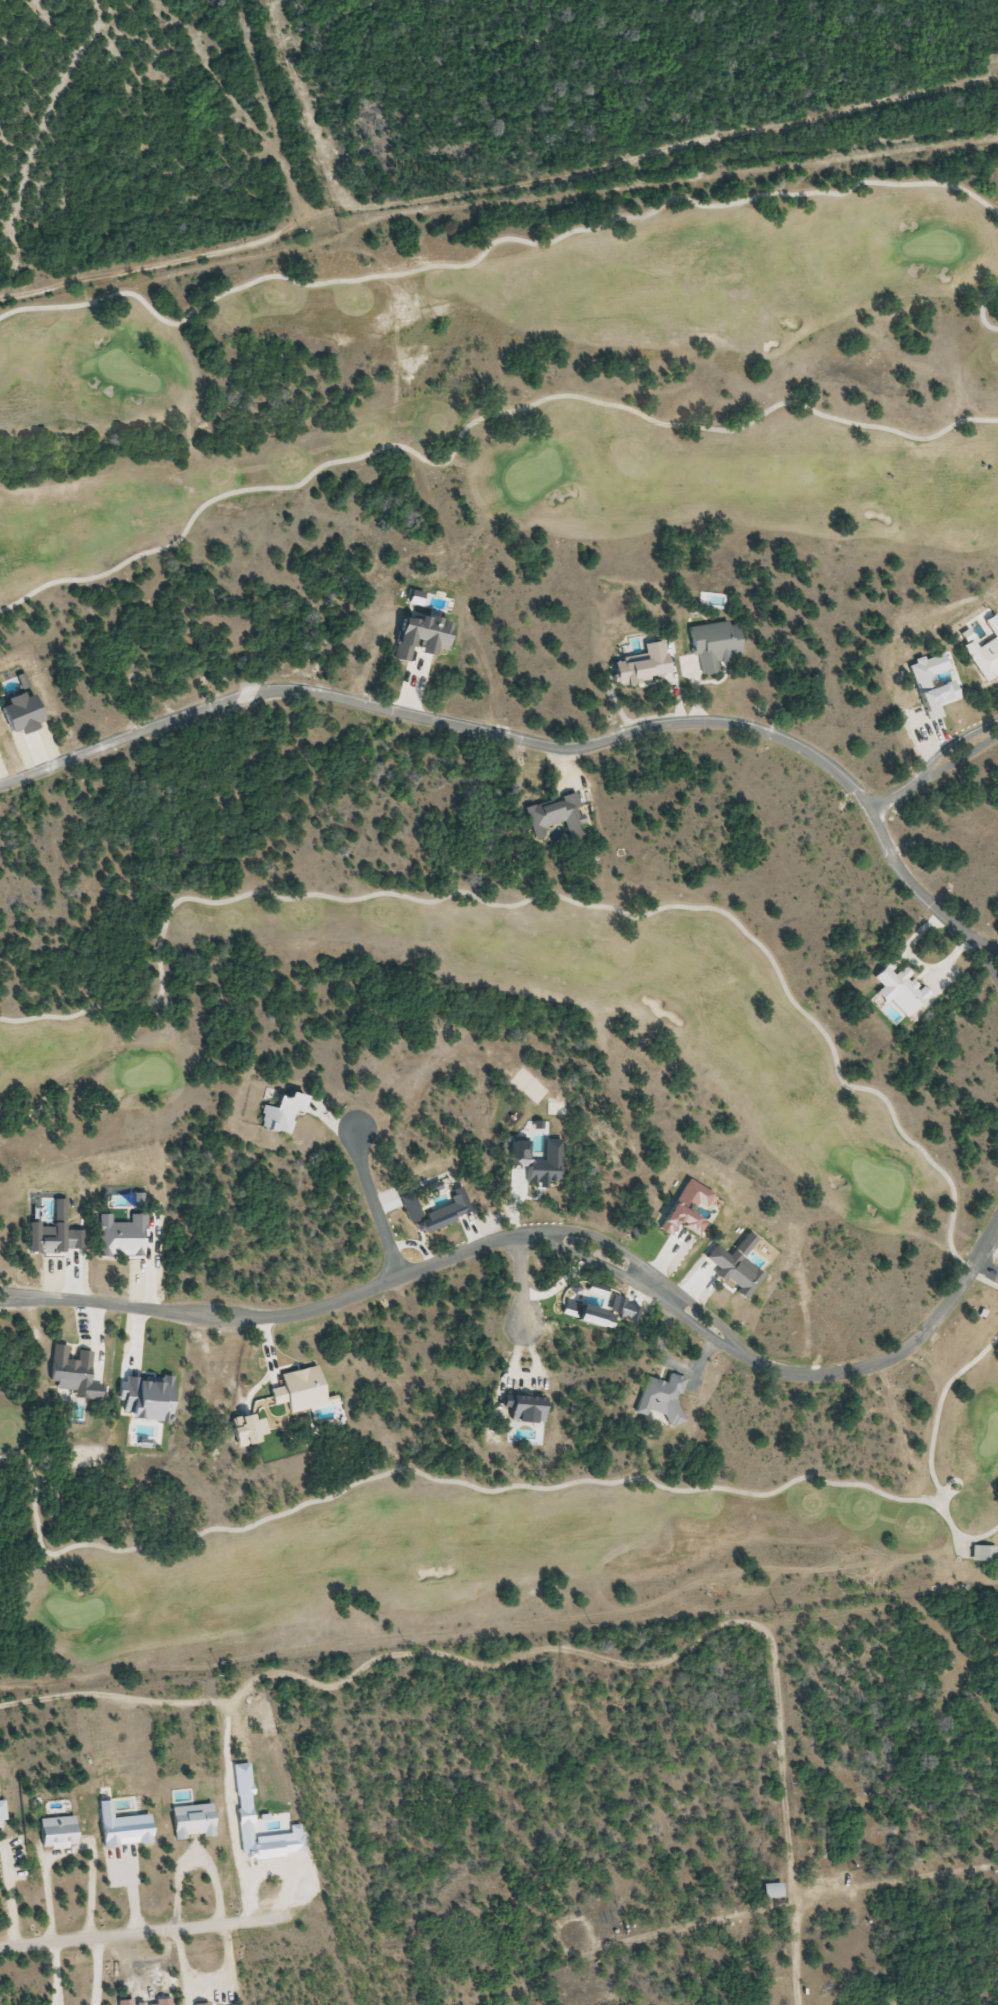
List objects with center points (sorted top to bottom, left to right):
road: (498, 187)
road: (492, 242)
road: (982, 309)
road: (474, 421)
building: (713, 644)
road: (535, 741)
road: (952, 744)
road: (958, 759)
road: (893, 795)
road: (561, 896)
park: (502, 917)
road: (994, 947)
road: (990, 964)
road: (375, 1204)
road: (652, 1270)
road: (523, 1284)
road: (644, 1288)
road: (283, 1316)
road: (895, 1355)
road: (931, 1448)
road: (426, 1475)
road: (959, 1484)
building: (982, 1554)
building: (56, 1832)
building: (770, 1890)
road: (139, 1932)

